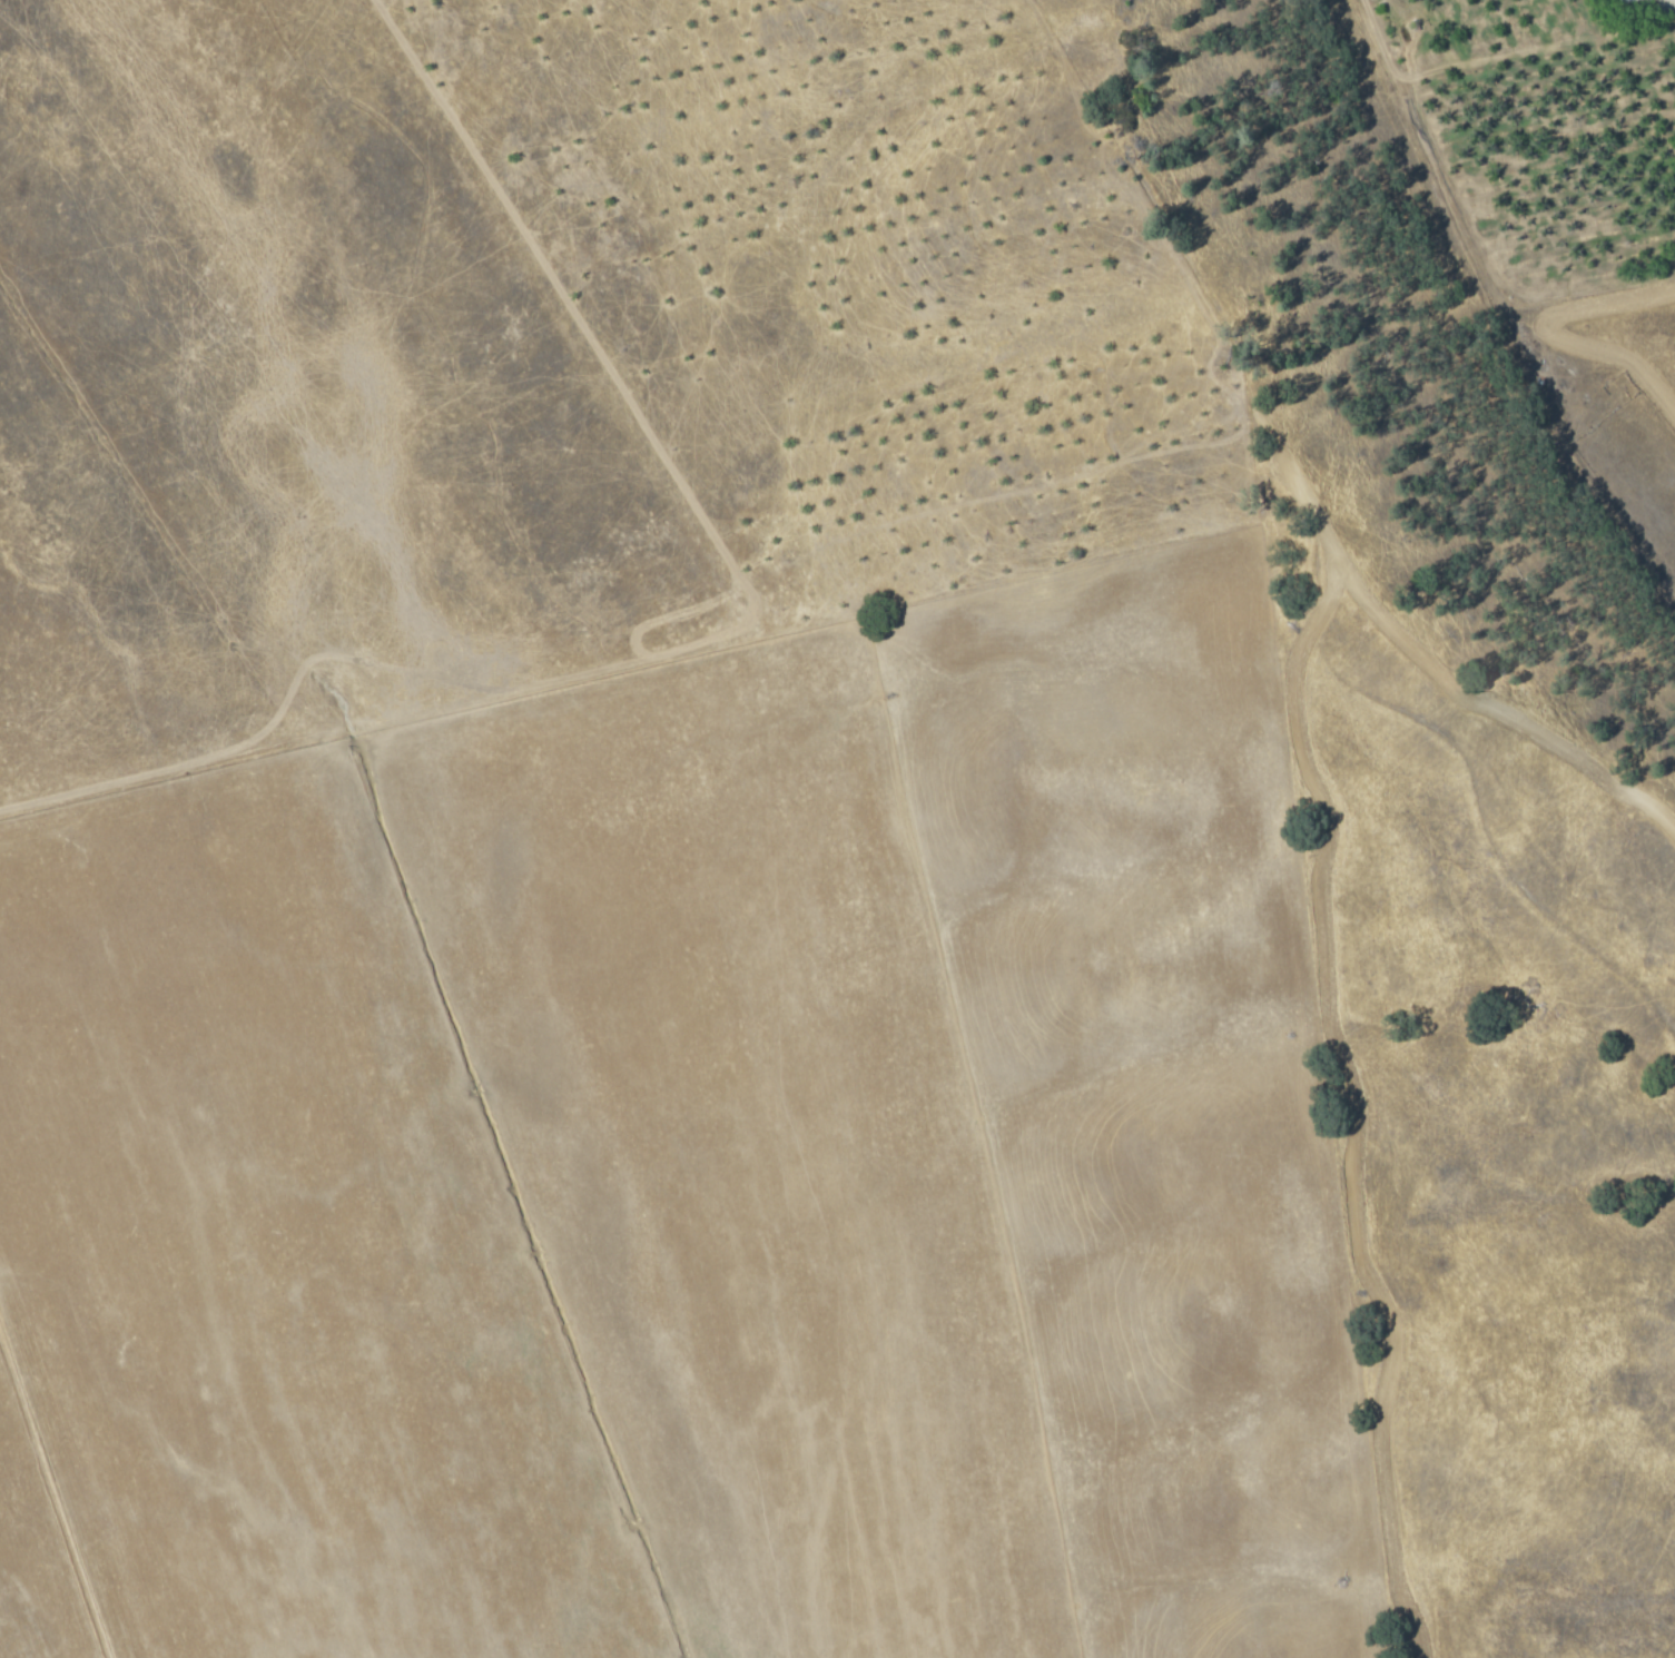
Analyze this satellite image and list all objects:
building: (1623, 1)

